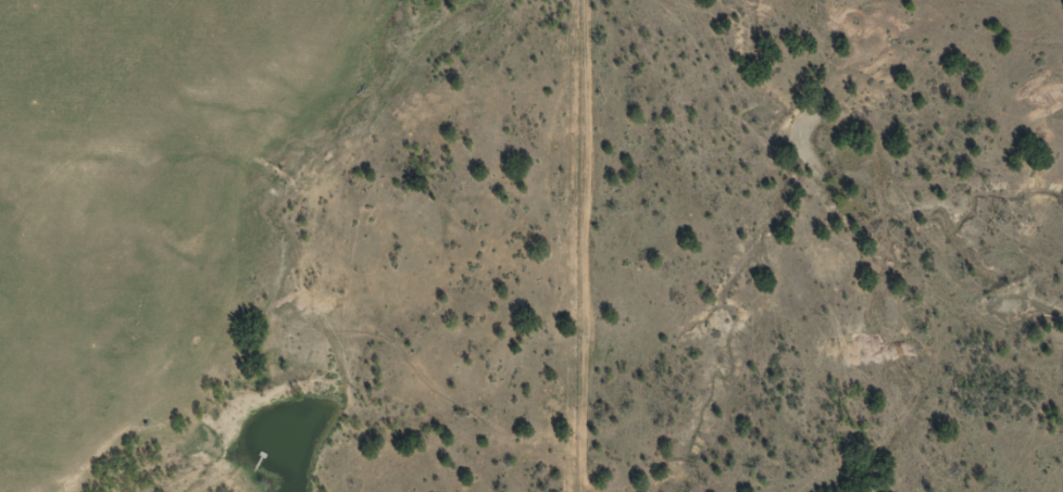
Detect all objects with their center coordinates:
road: (383, 359)
road: (0, 491)

